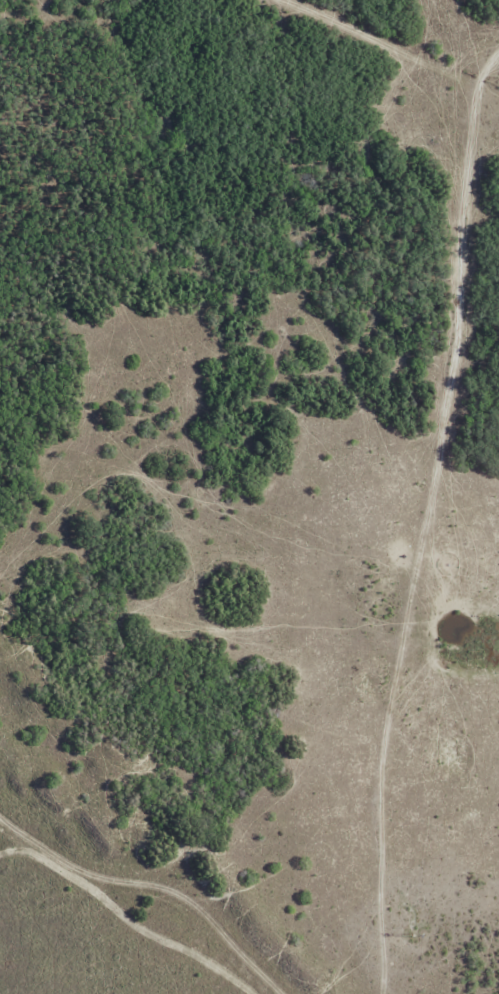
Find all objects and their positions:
road: (380, 49)

